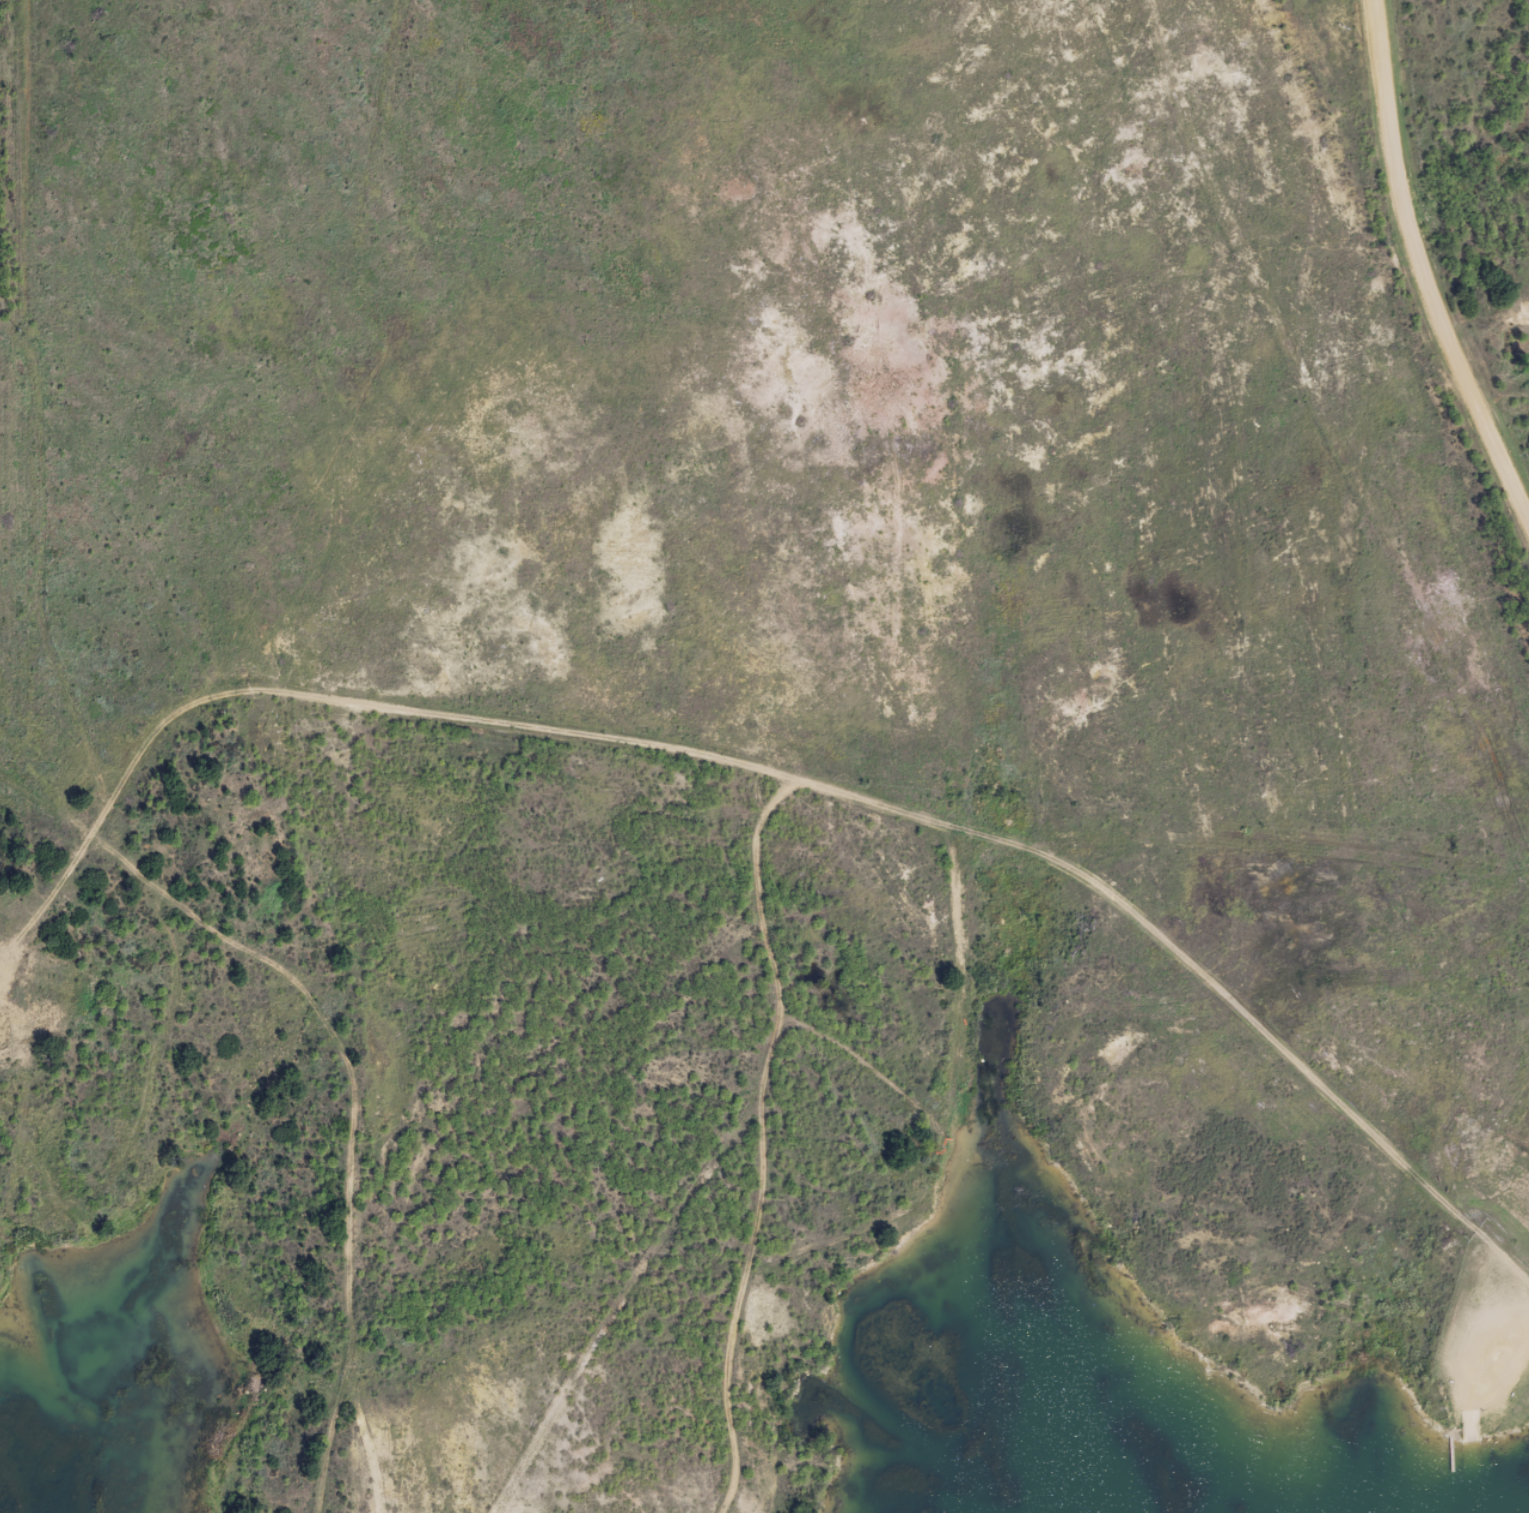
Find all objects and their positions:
road: (1420, 267)
road: (339, 702)
road: (47, 806)
road: (1201, 972)
road: (353, 1117)
road: (761, 1140)
road: (96, 1193)
road: (1469, 1329)
road: (1470, 1429)

